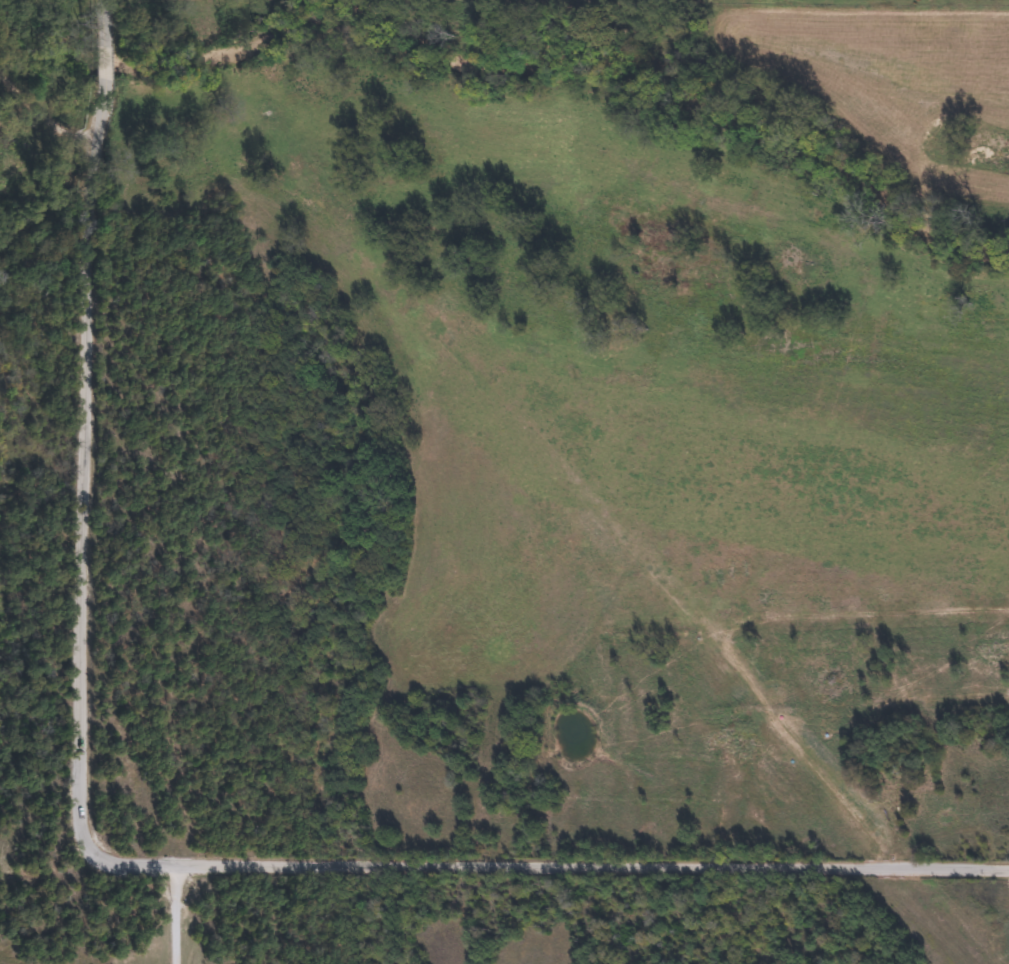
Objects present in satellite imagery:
road: (159, 874)
road: (205, 938)

